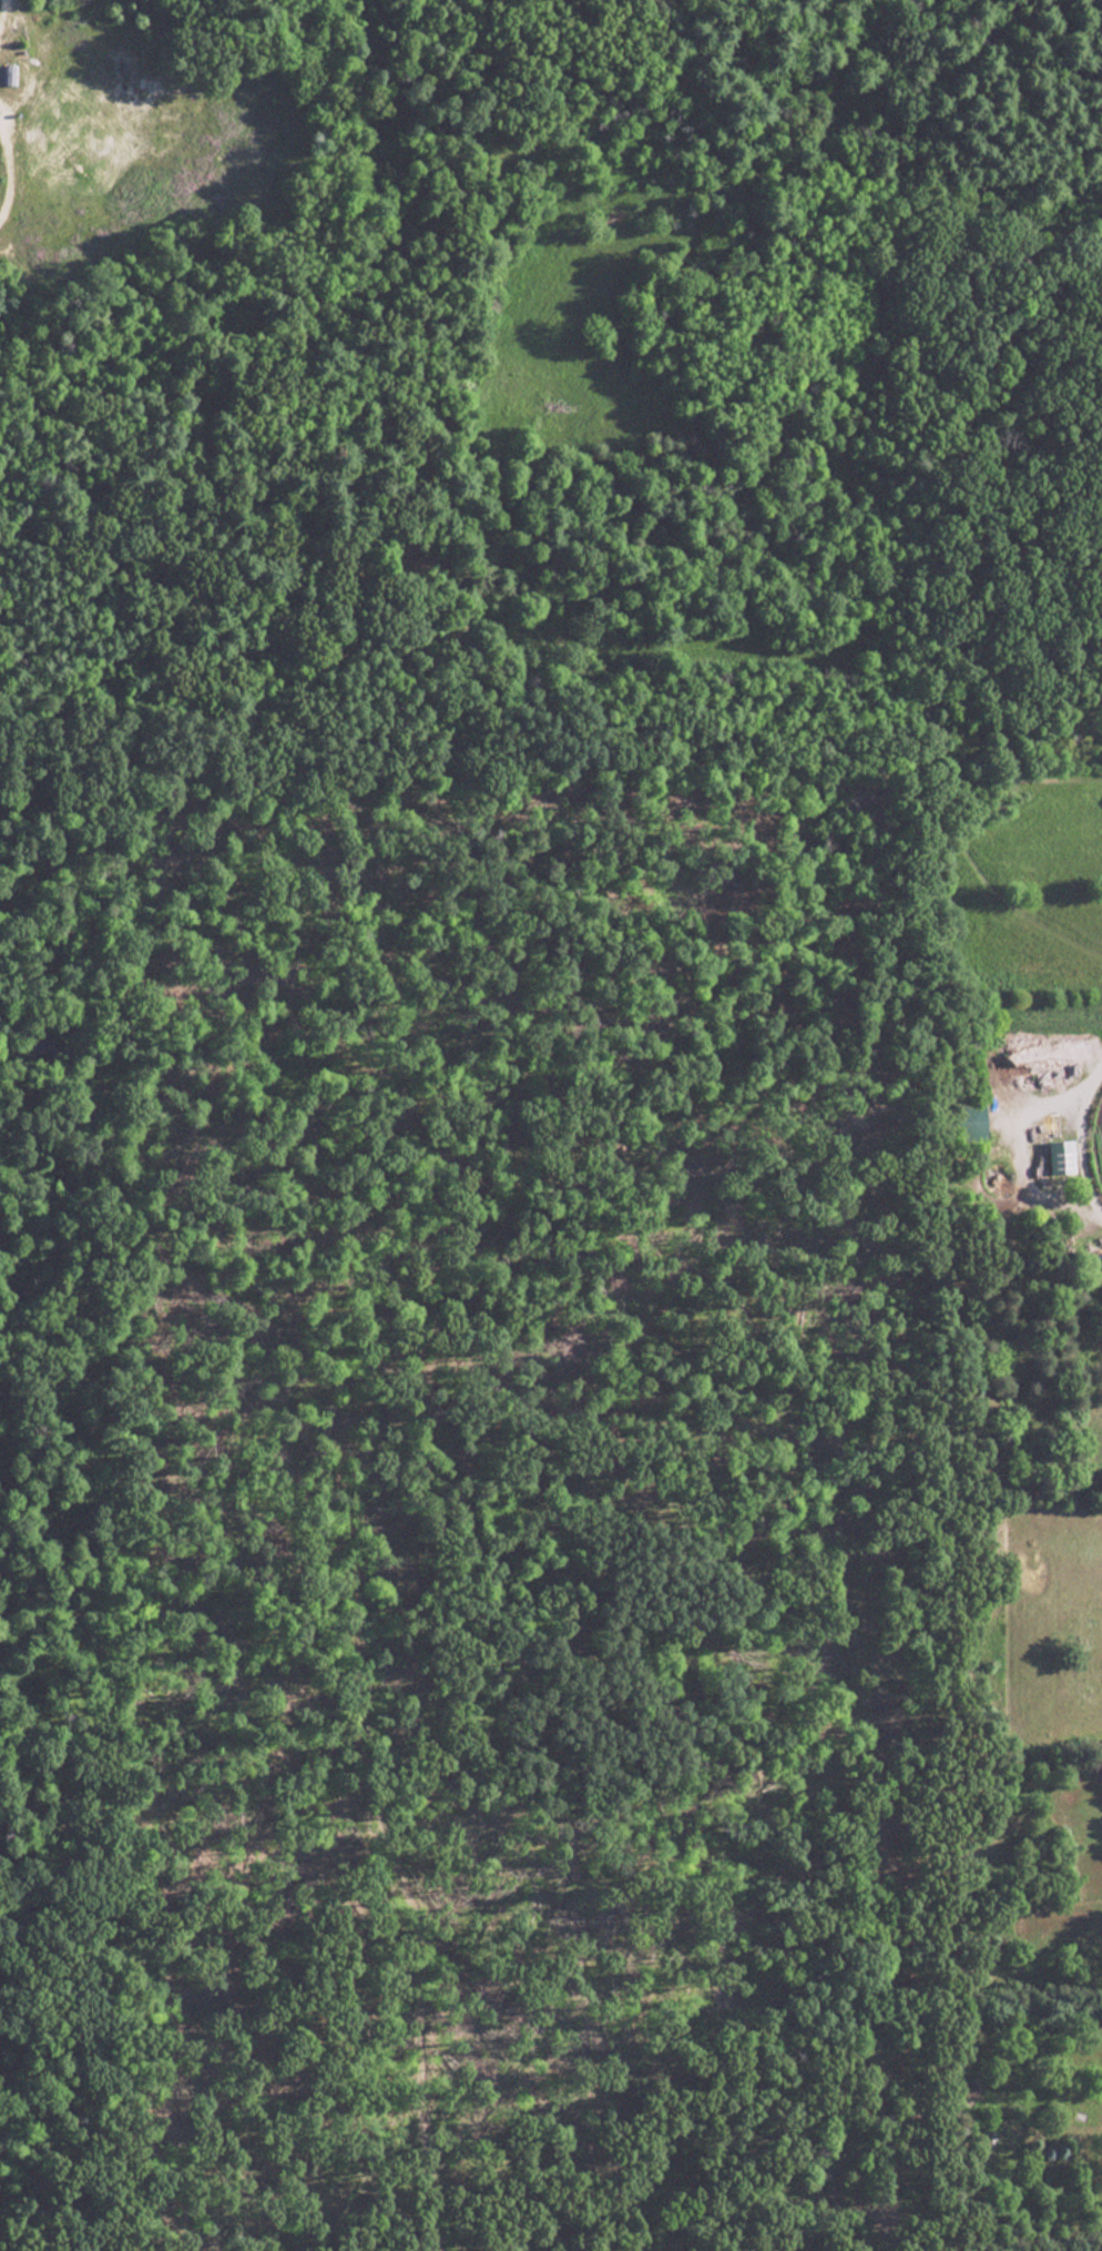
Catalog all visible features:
park: (1004, 344)
building: (975, 1134)
building: (1059, 1157)

